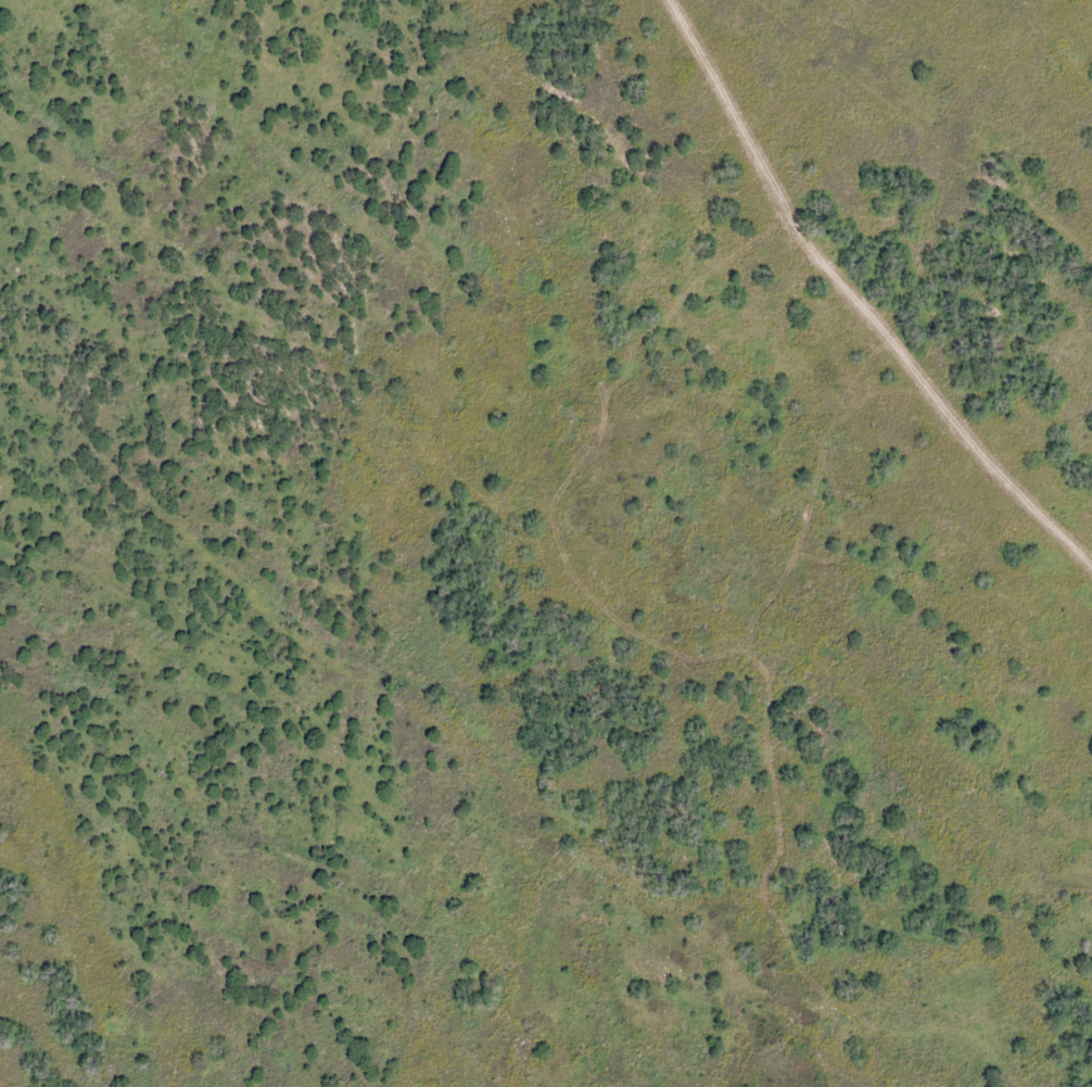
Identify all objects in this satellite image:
road: (867, 278)

